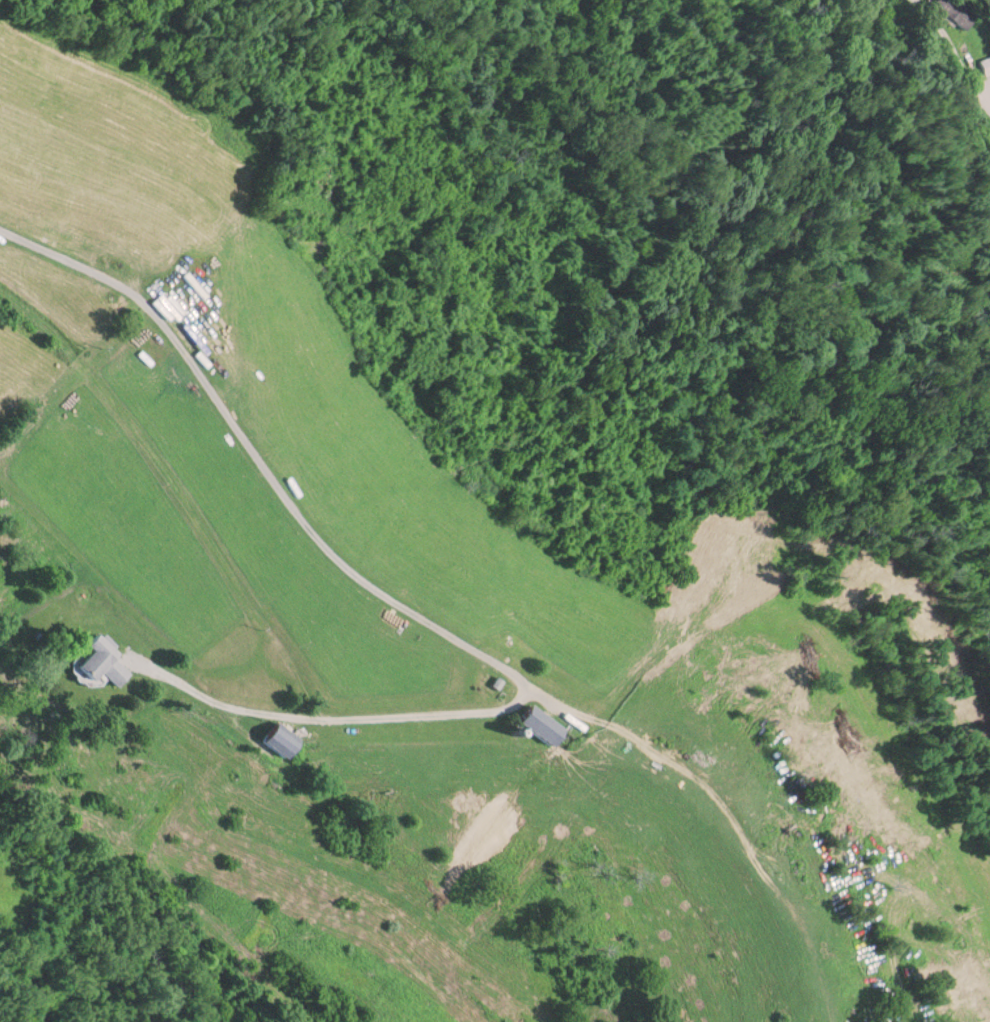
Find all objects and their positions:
building: (957, 9)
building: (986, 62)
road: (262, 457)
building: (96, 660)
road: (336, 715)
building: (533, 722)
building: (271, 735)

